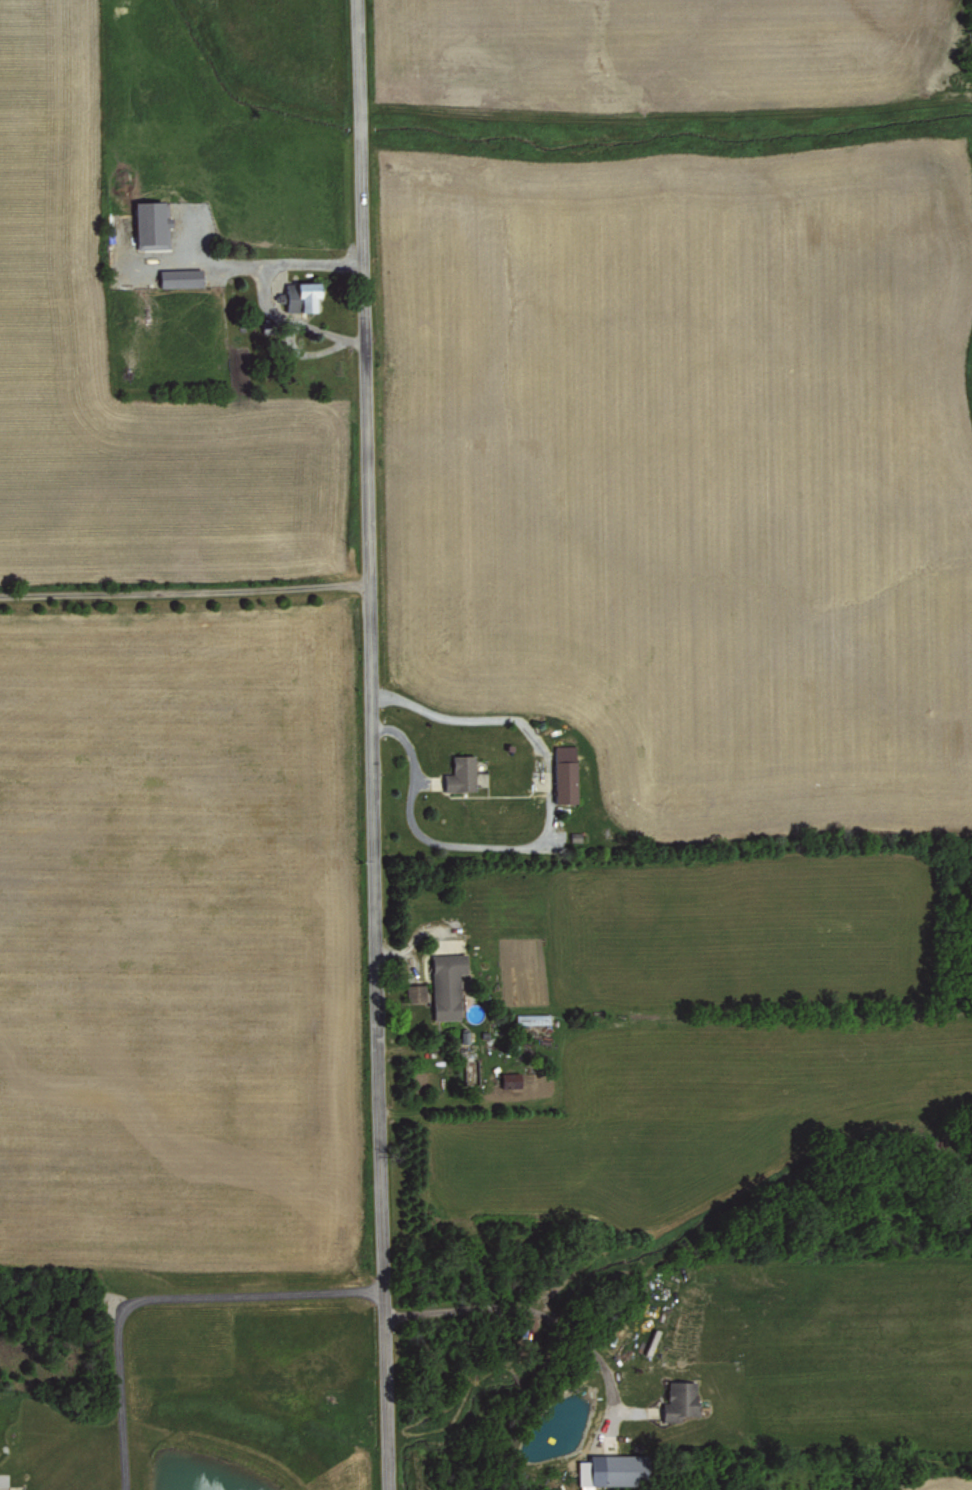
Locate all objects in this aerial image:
building: (152, 223)
road: (272, 263)
building: (181, 276)
building: (291, 291)
building: (308, 294)
road: (184, 591)
road: (371, 745)
building: (461, 773)
building: (566, 773)
building: (447, 984)
building: (416, 992)
building: (532, 1018)
building: (511, 1080)
road: (159, 1296)
road: (541, 1310)
building: (614, 1468)

